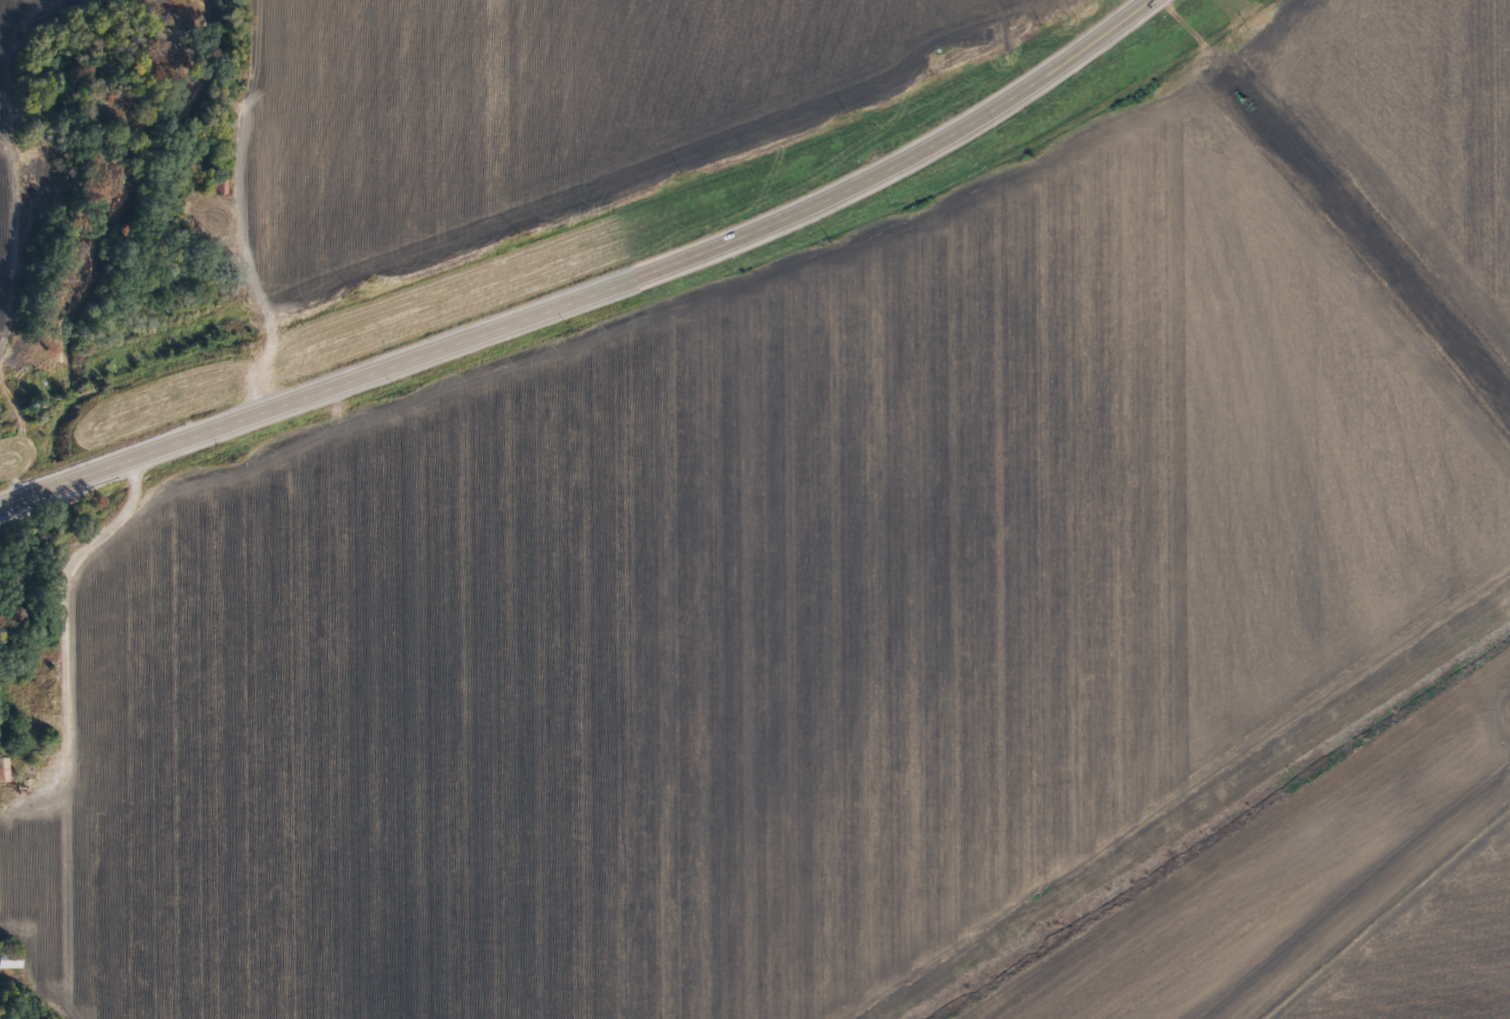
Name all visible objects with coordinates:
road: (580, 286)
road: (210, 320)
building: (4, 770)
building: (9, 963)

